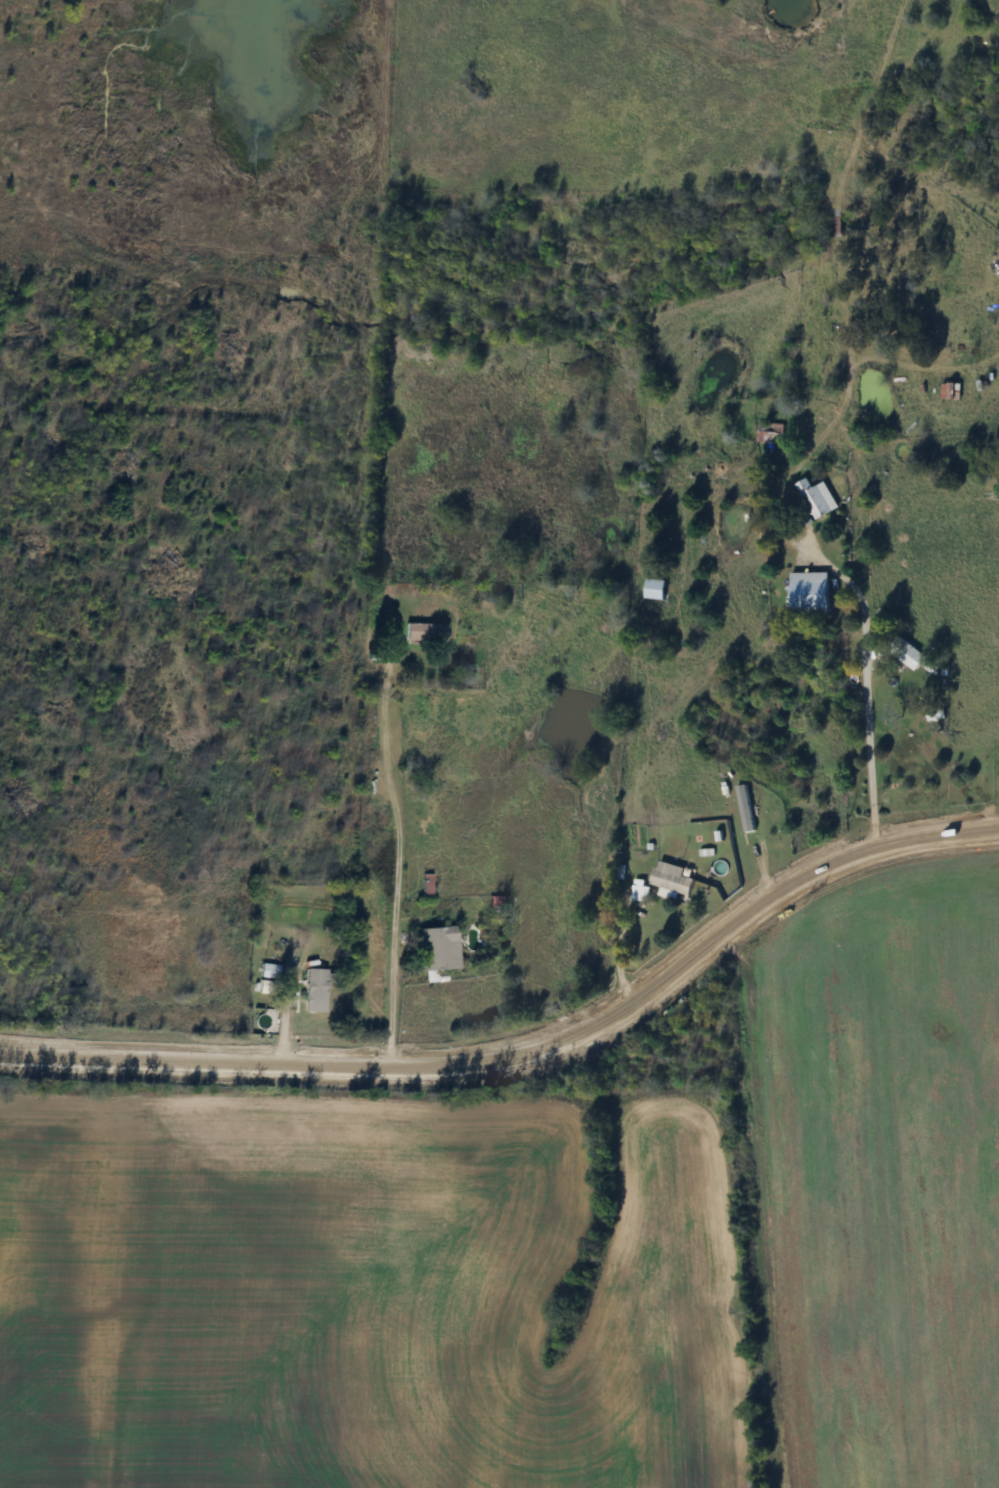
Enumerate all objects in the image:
building: (768, 434)
building: (815, 498)
road: (850, 552)
building: (652, 590)
building: (807, 596)
building: (421, 632)
building: (904, 654)
building: (800, 710)
building: (744, 809)
road: (401, 861)
building: (666, 877)
building: (424, 885)
building: (638, 894)
building: (436, 948)
road: (619, 948)
building: (311, 991)
road: (530, 1050)

